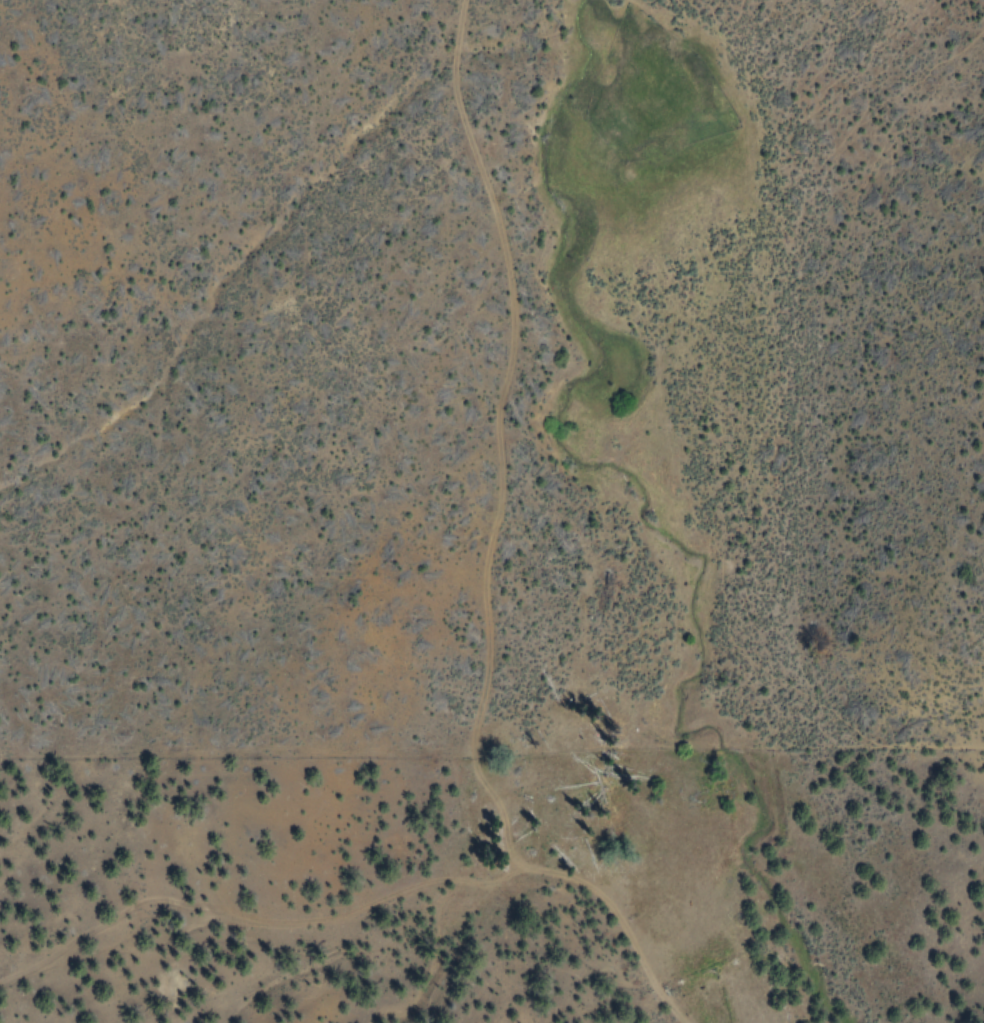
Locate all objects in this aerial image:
road: (514, 563)

